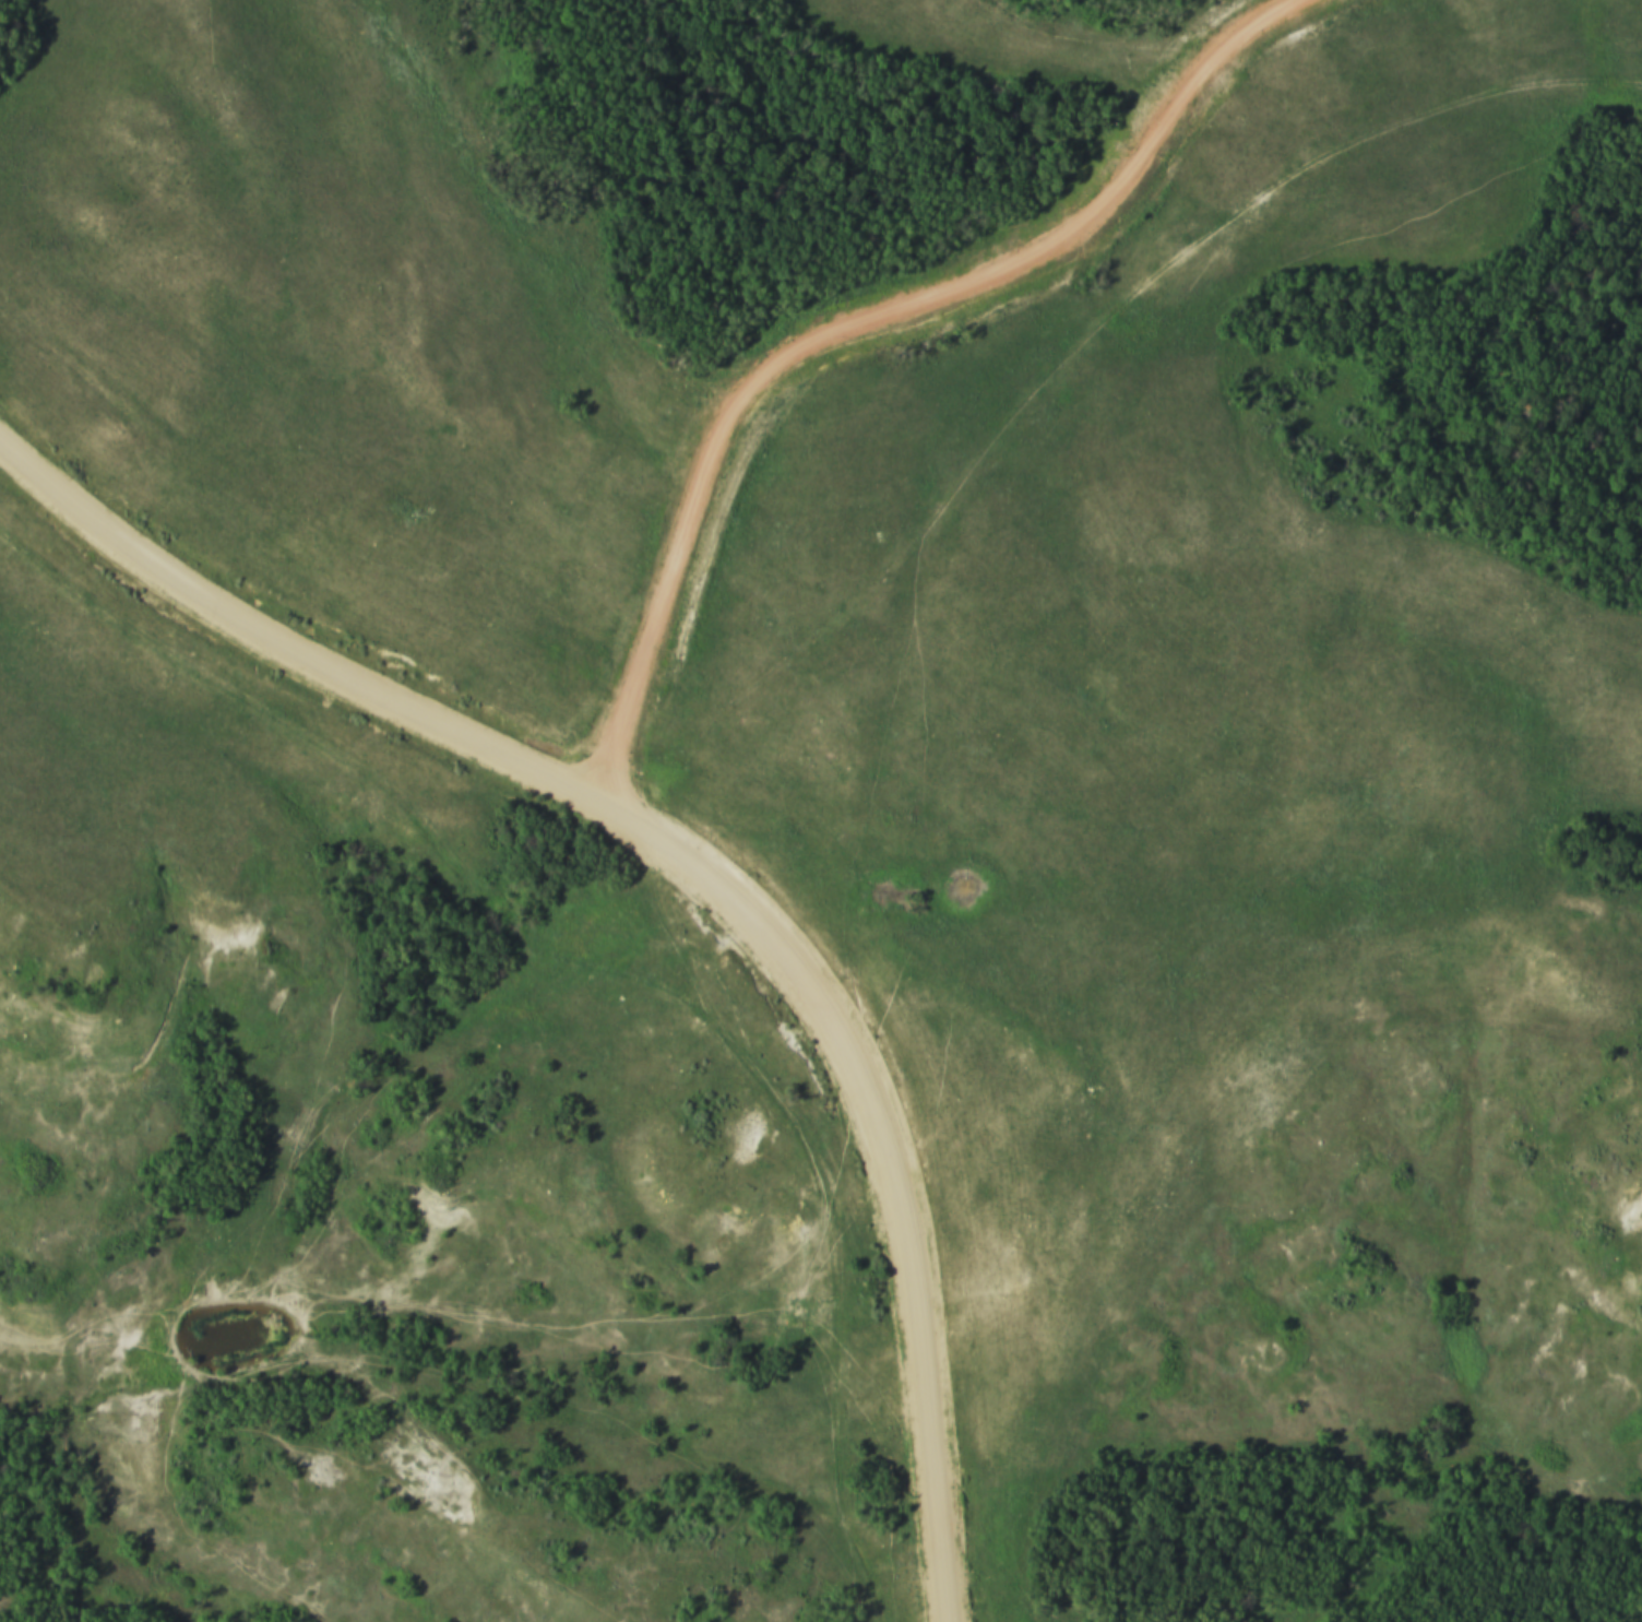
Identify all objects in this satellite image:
road: (1071, 355)
road: (694, 871)

